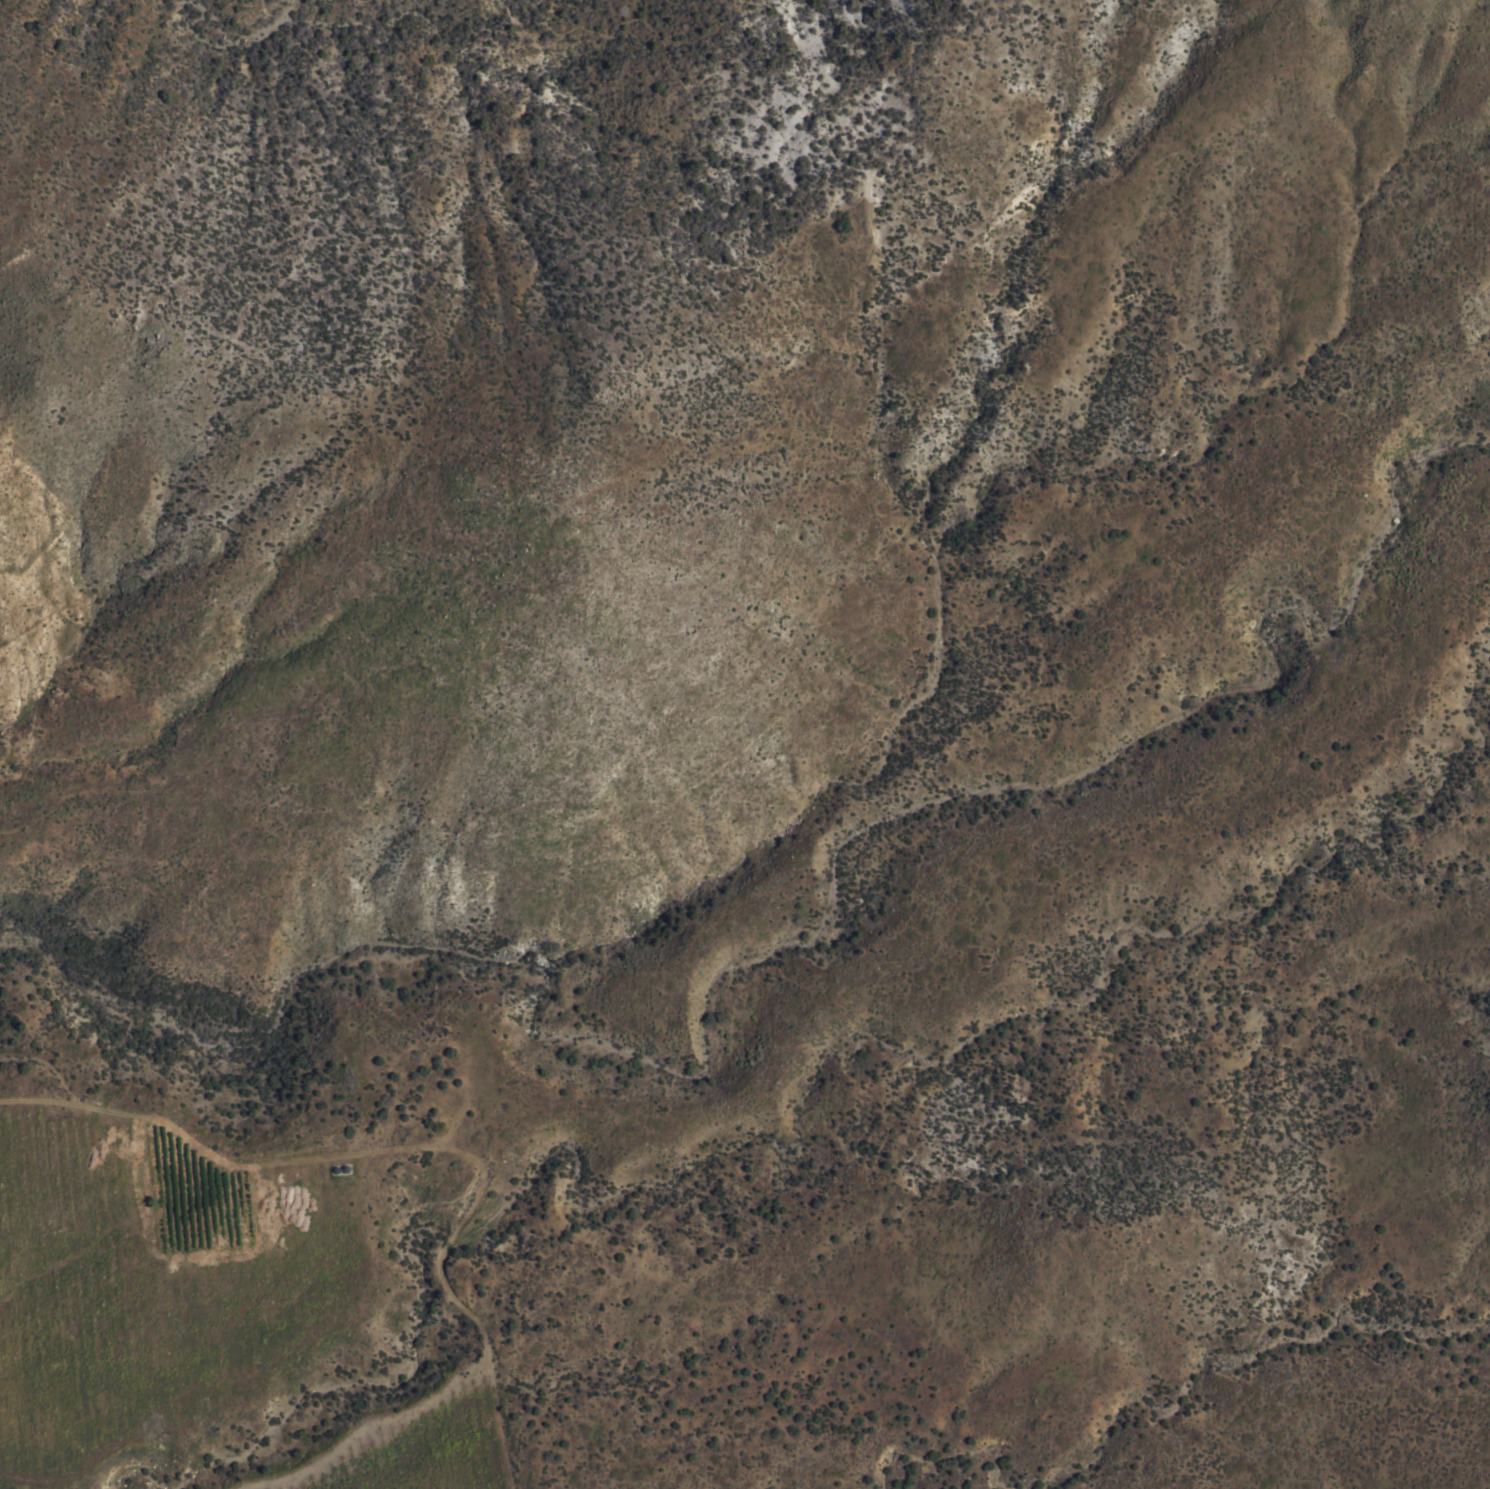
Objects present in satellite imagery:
crop: (170, 1286)
crop: (408, 1458)

